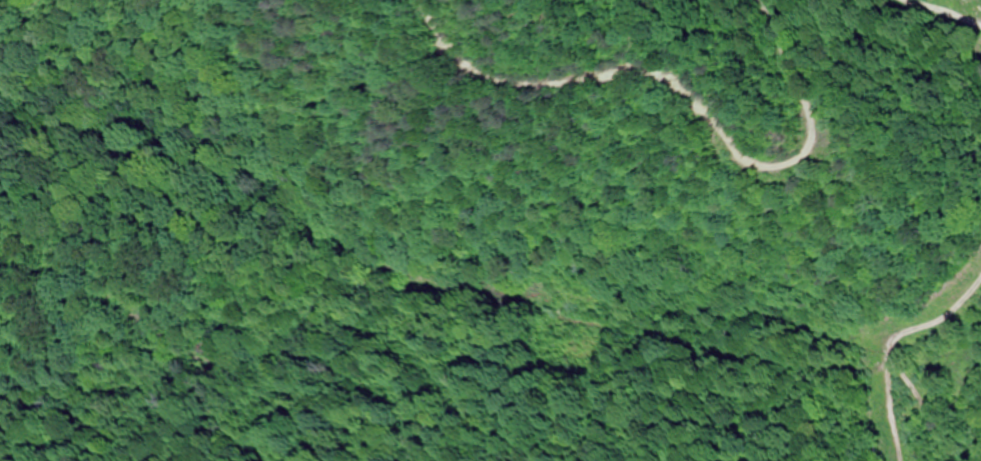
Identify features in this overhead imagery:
road: (968, 405)

